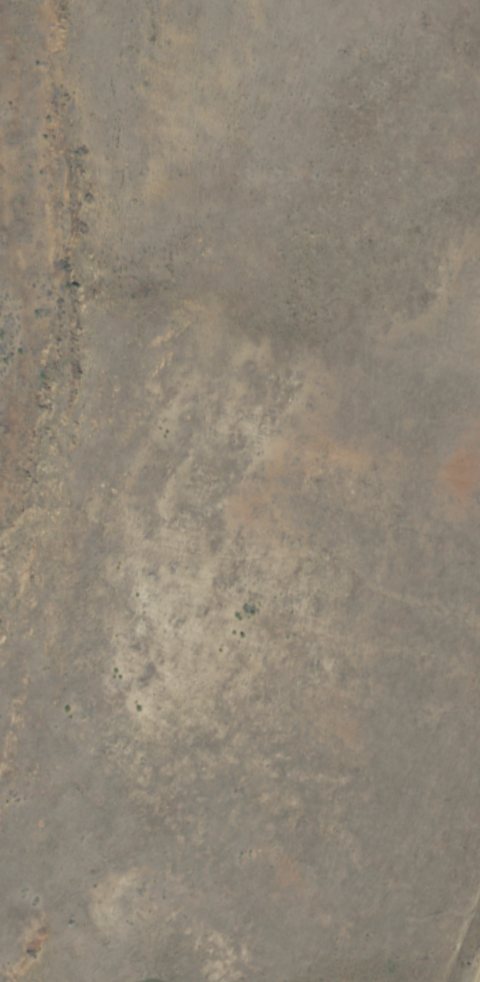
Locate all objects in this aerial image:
road: (469, 957)

